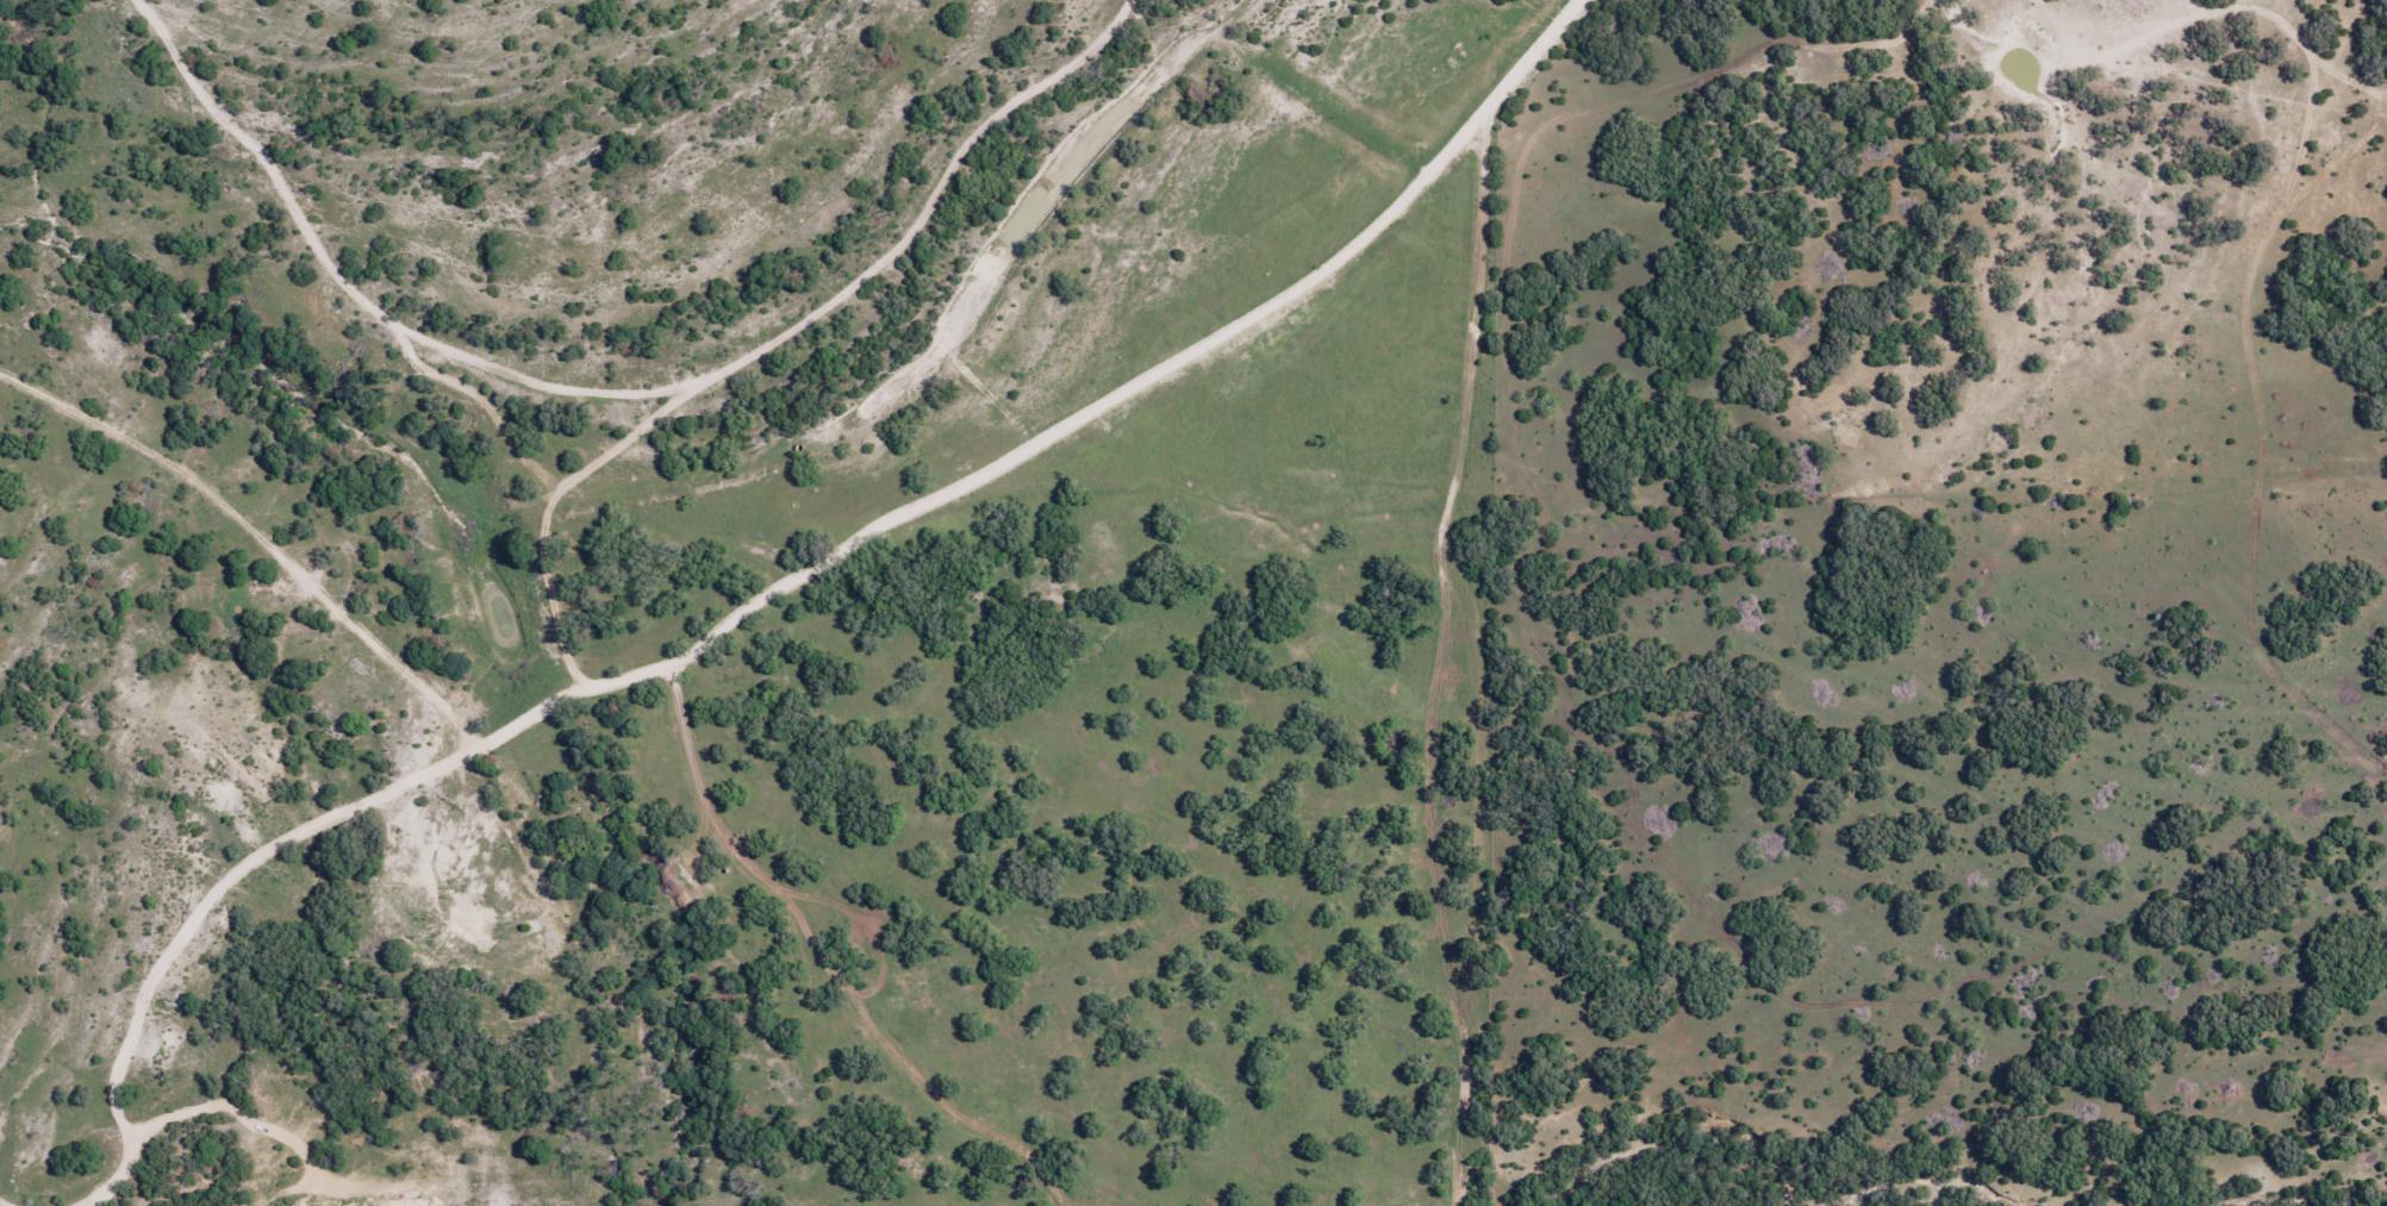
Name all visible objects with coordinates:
road: (1254, 331)
road: (36, 1135)
road: (32, 1192)

